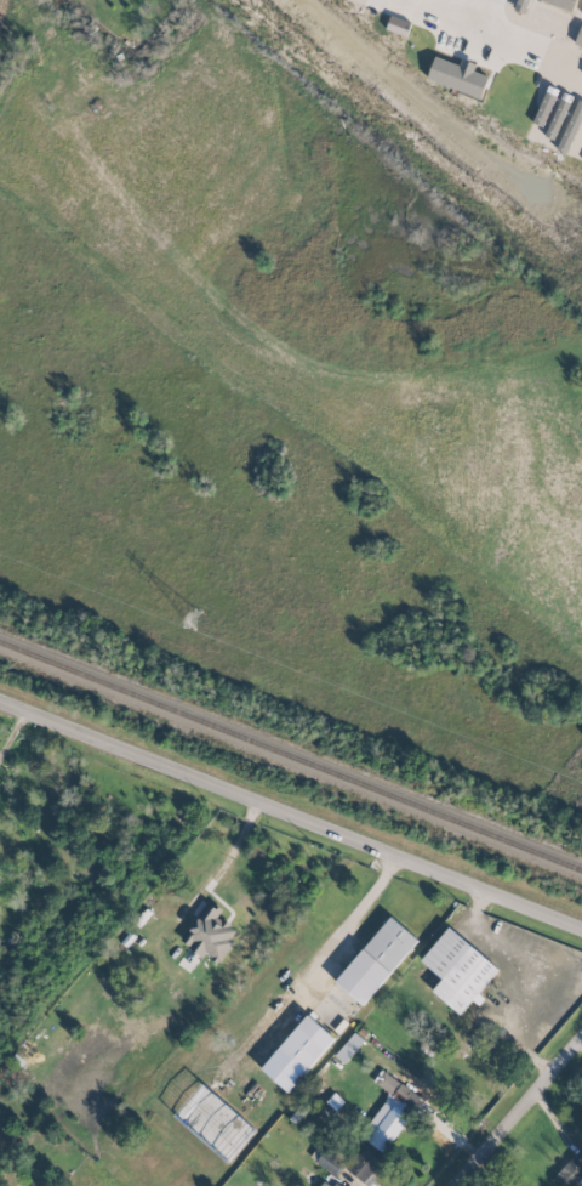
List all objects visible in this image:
road: (466, 21)
building: (456, 76)
power tower: (190, 622)
road: (13, 727)
railway: (291, 754)
road: (290, 812)
road: (217, 869)
road: (350, 915)
building: (209, 934)
building: (376, 960)
building: (457, 969)
building: (306, 1042)
building: (348, 1048)
building: (388, 1112)
road: (524, 1119)
building: (363, 1167)
building: (567, 1173)
building: (326, 1182)

